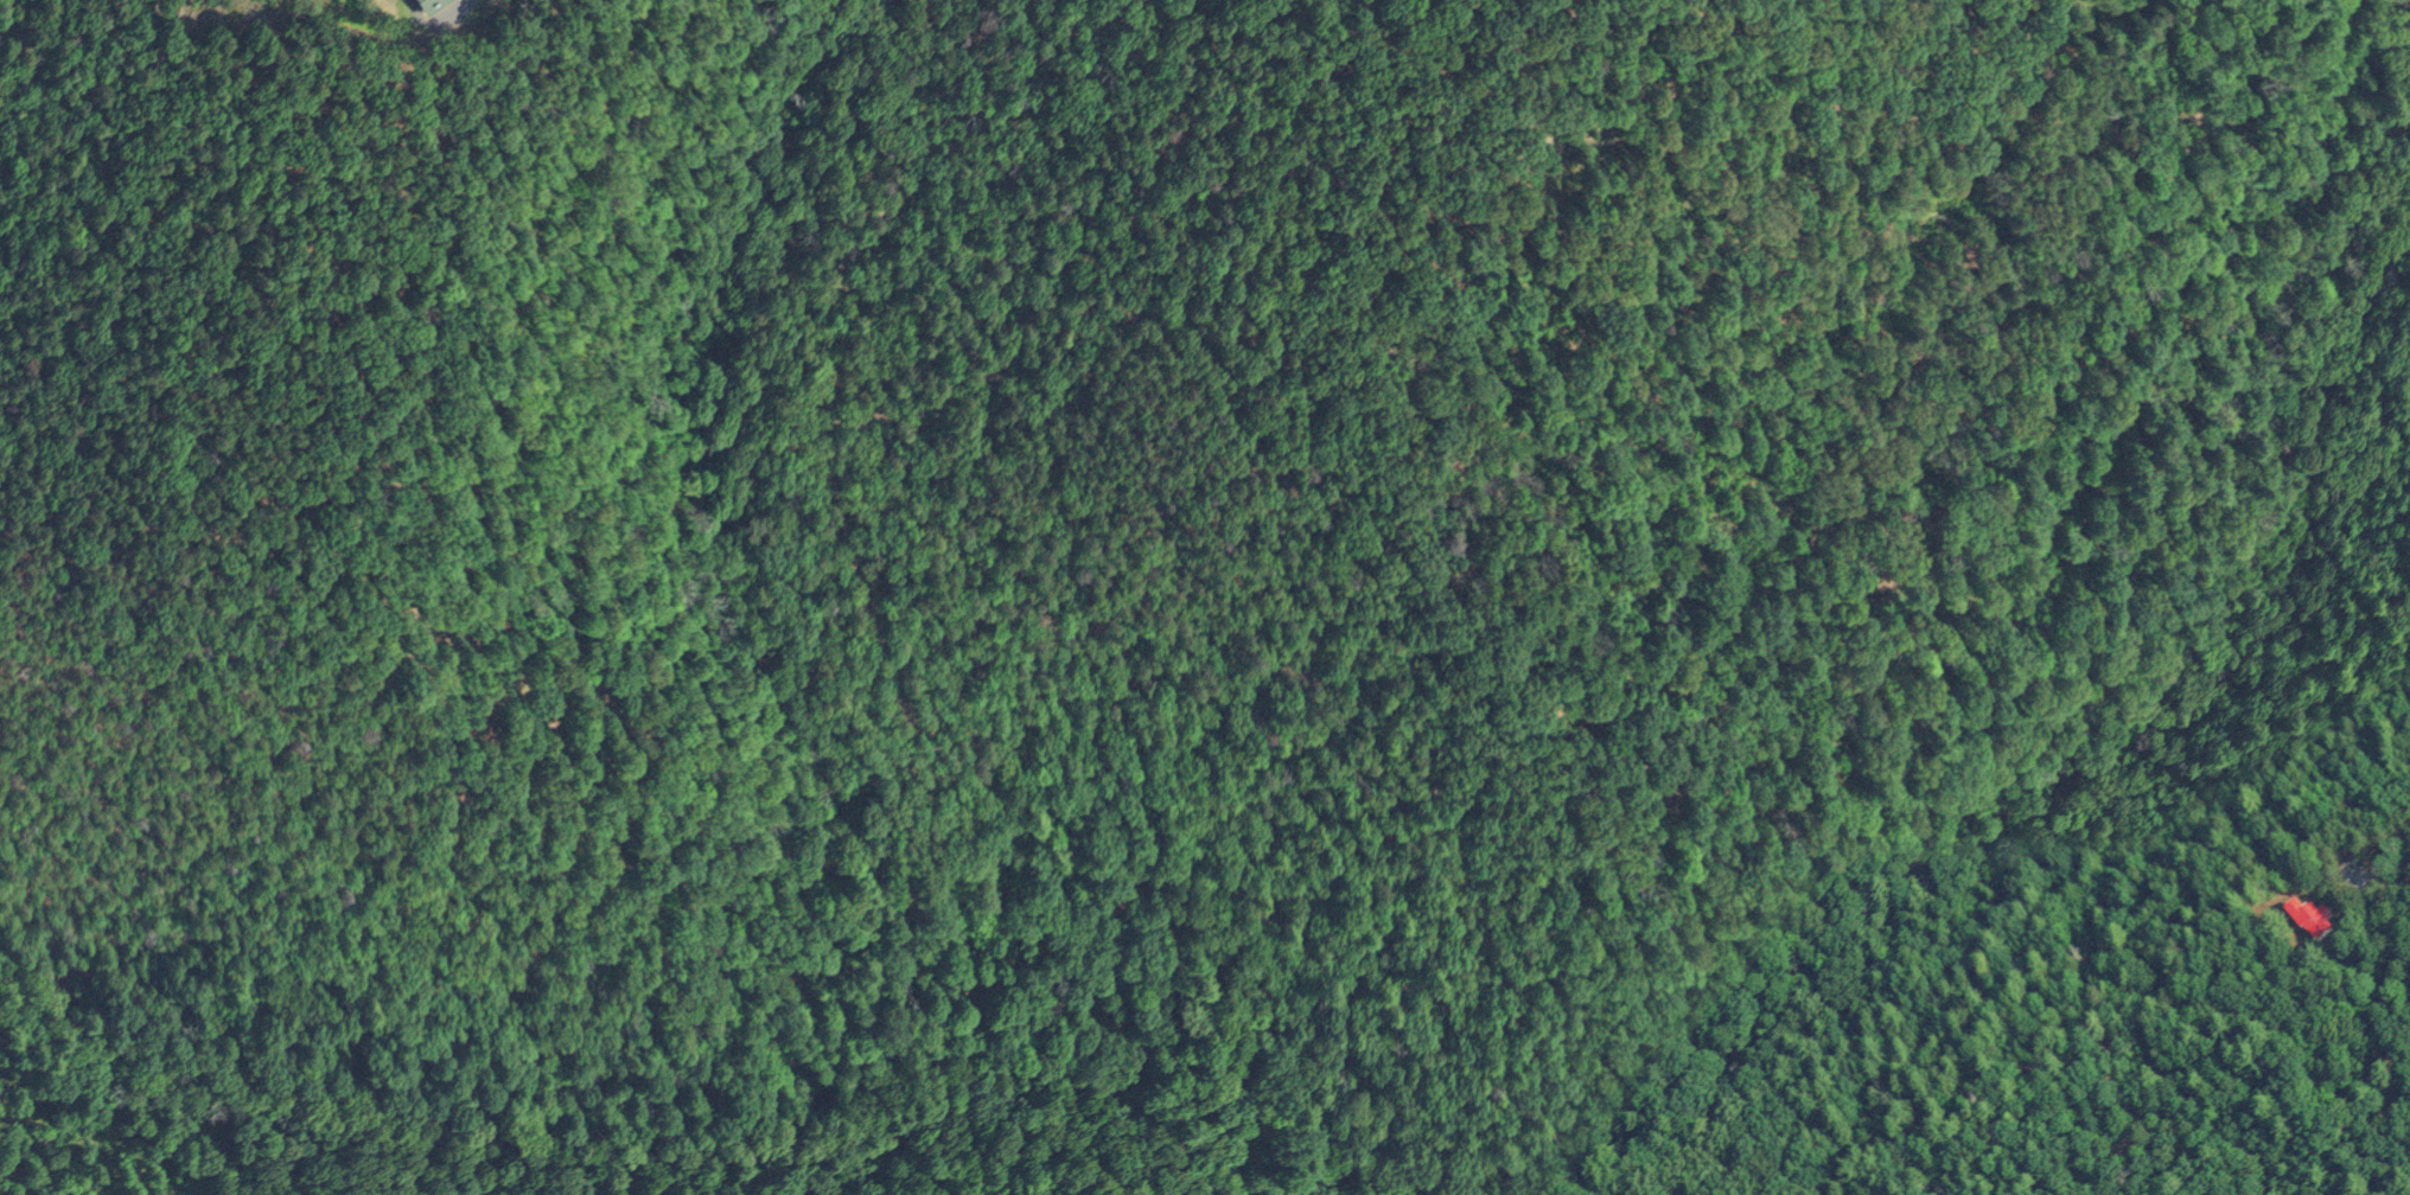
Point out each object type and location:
building: (2320, 926)

